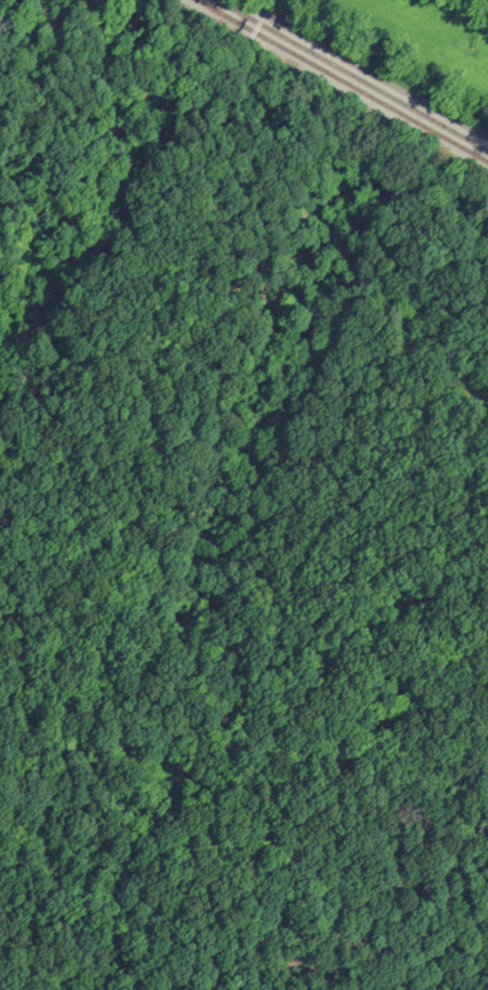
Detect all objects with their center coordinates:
road: (358, 73)
railway: (350, 75)
railway: (340, 81)

